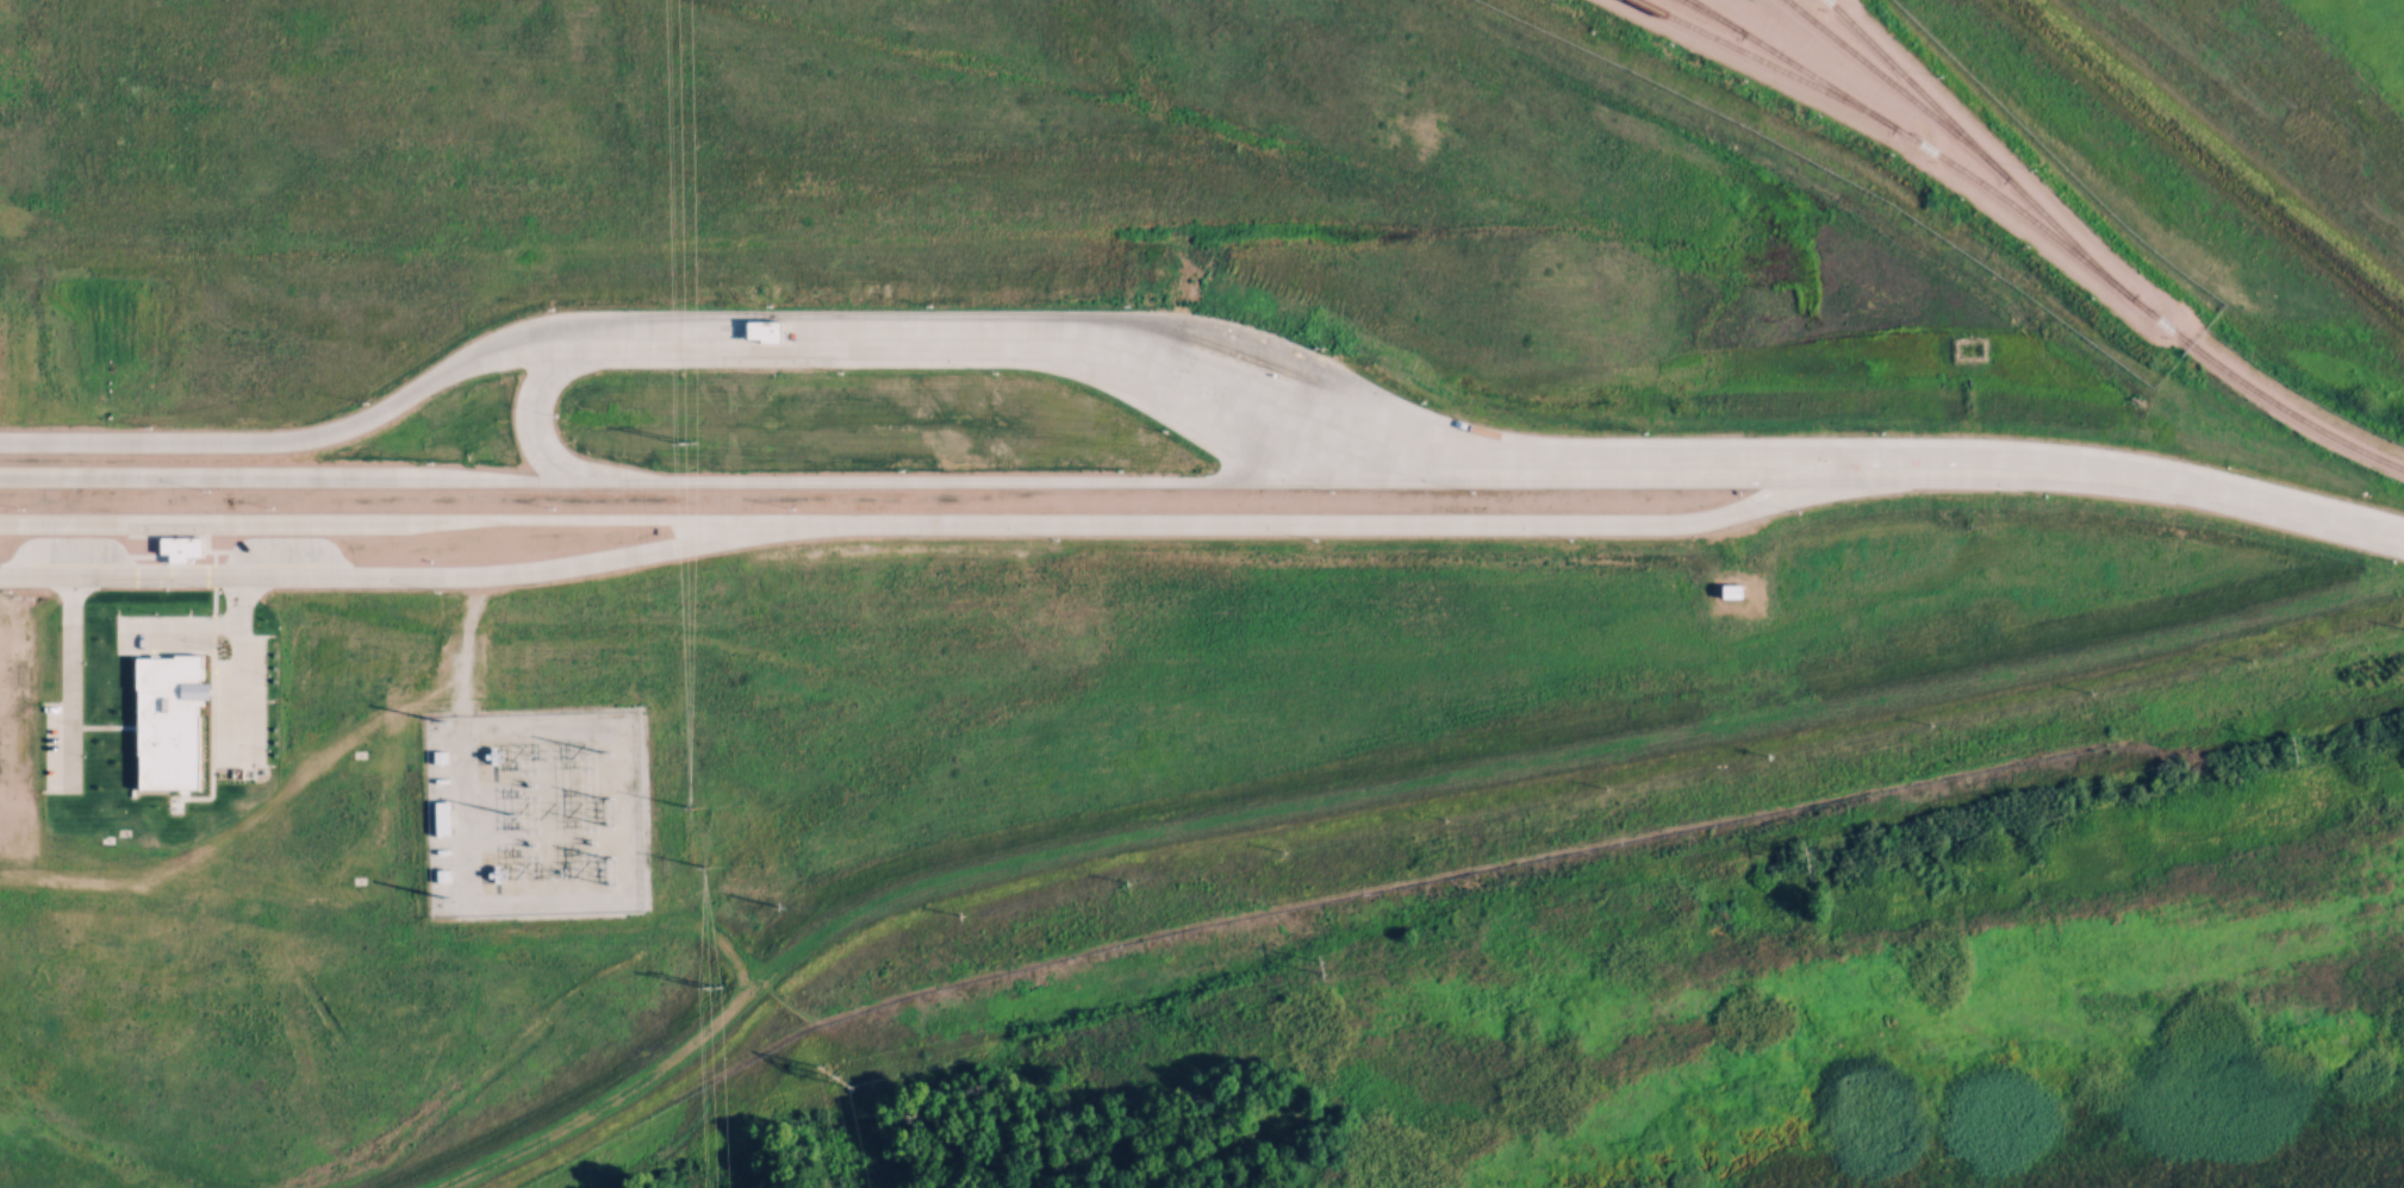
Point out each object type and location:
railway: (1702, 8)
railway: (1783, 56)
railway: (1904, 76)
railway: (1938, 119)
railway: (2032, 217)
road: (702, 331)
road: (535, 420)
power tower: (700, 444)
road: (1911, 458)
road: (298, 479)
road: (1005, 481)
road: (393, 521)
road: (1370, 523)
road: (396, 575)
road: (237, 663)
road: (64, 675)
power tower: (2312, 750)
power tower: (716, 806)
power tower: (612, 807)
power substation: (548, 813)
power tower: (1829, 856)
power tower: (720, 876)
power tower: (612, 879)
power tower: (1339, 959)
power tower: (724, 982)
power tower: (851, 1065)

